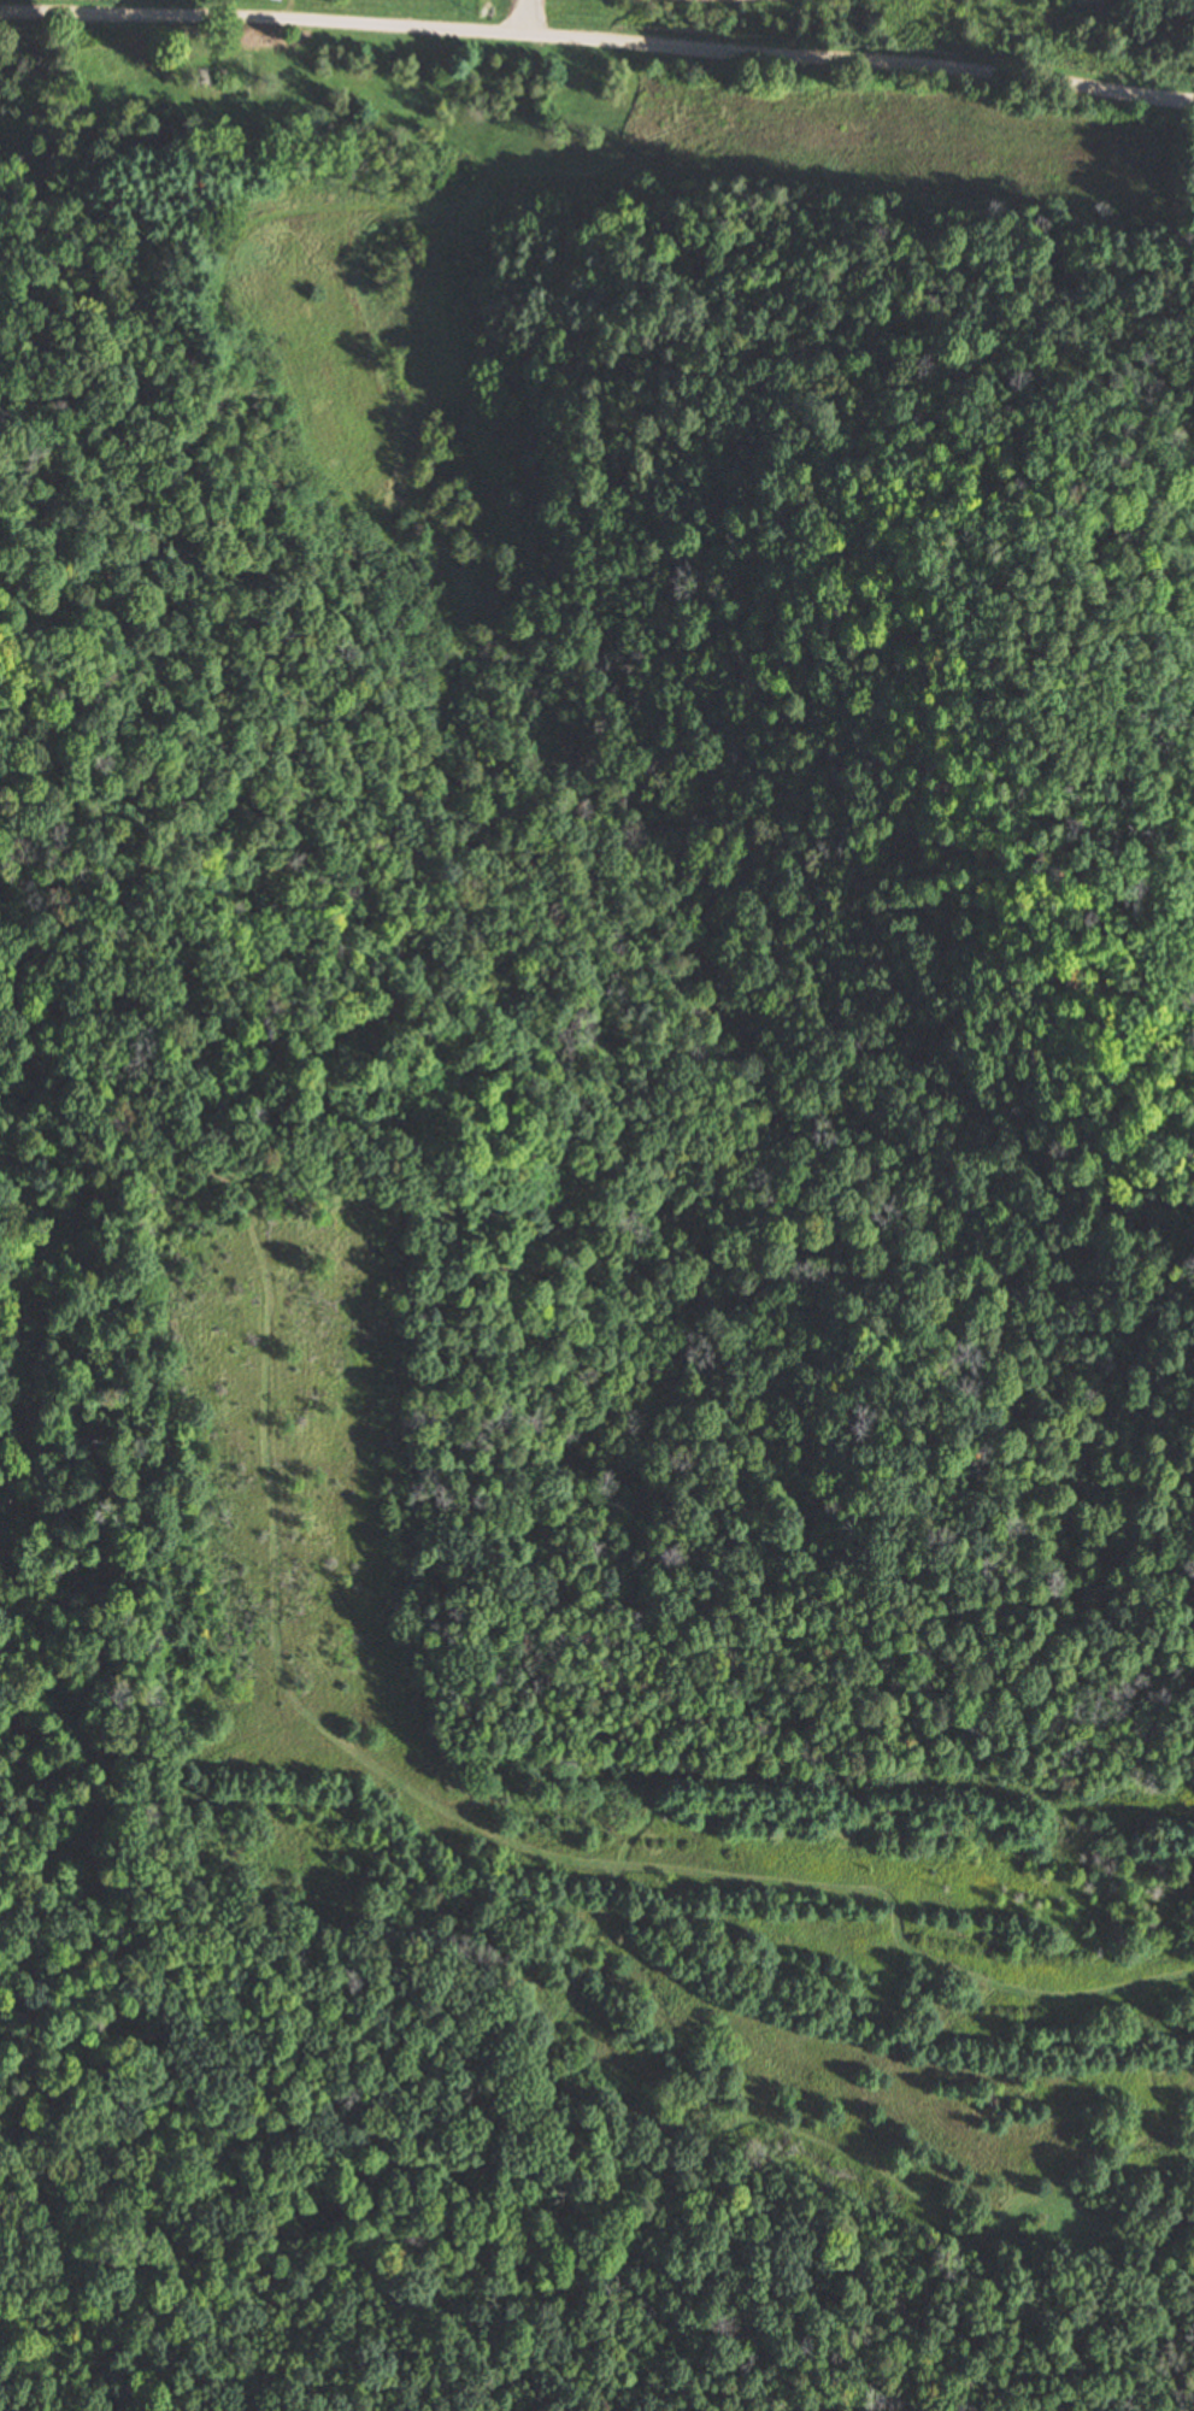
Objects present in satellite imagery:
road: (598, 40)
building: (201, 104)

